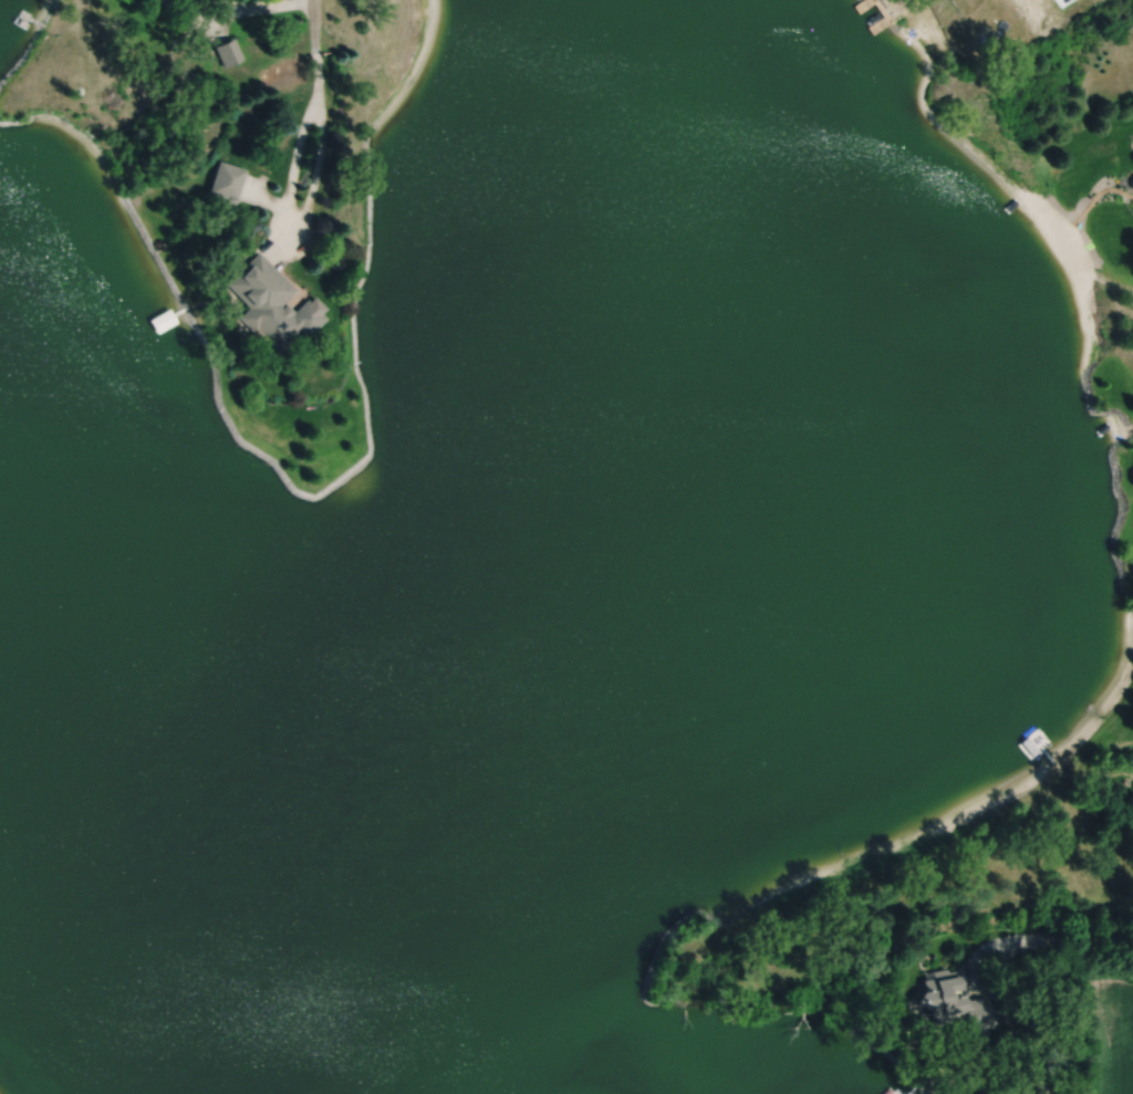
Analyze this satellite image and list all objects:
building: (159, 0)
building: (164, 1)
building: (903, 4)
road: (247, 8)
building: (228, 50)
road: (314, 51)
building: (1132, 149)
building: (227, 178)
building: (1132, 180)
road: (295, 211)
building: (272, 302)
building: (163, 321)
road: (1075, 940)
road: (971, 976)
building: (952, 1001)
road: (1018, 1033)
building: (1037, 1066)
building: (1007, 1092)

